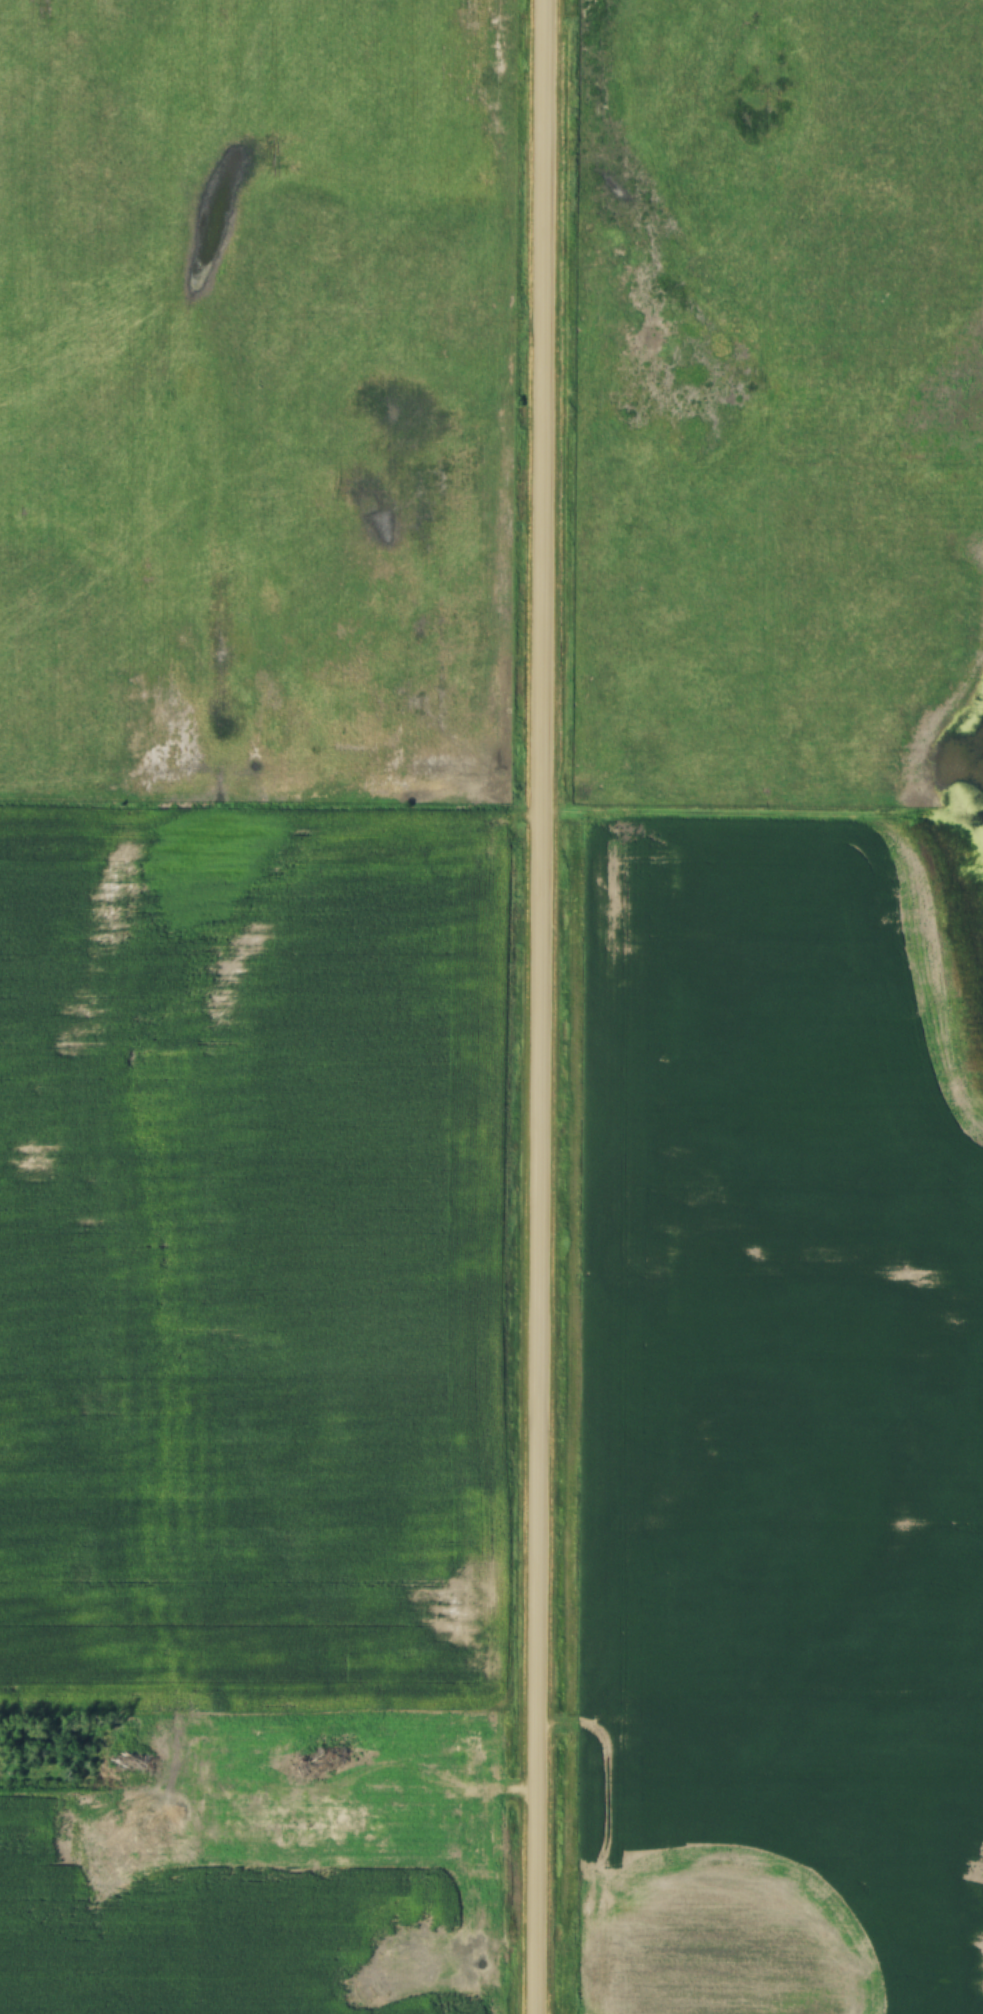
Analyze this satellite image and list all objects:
road: (542, 1007)

